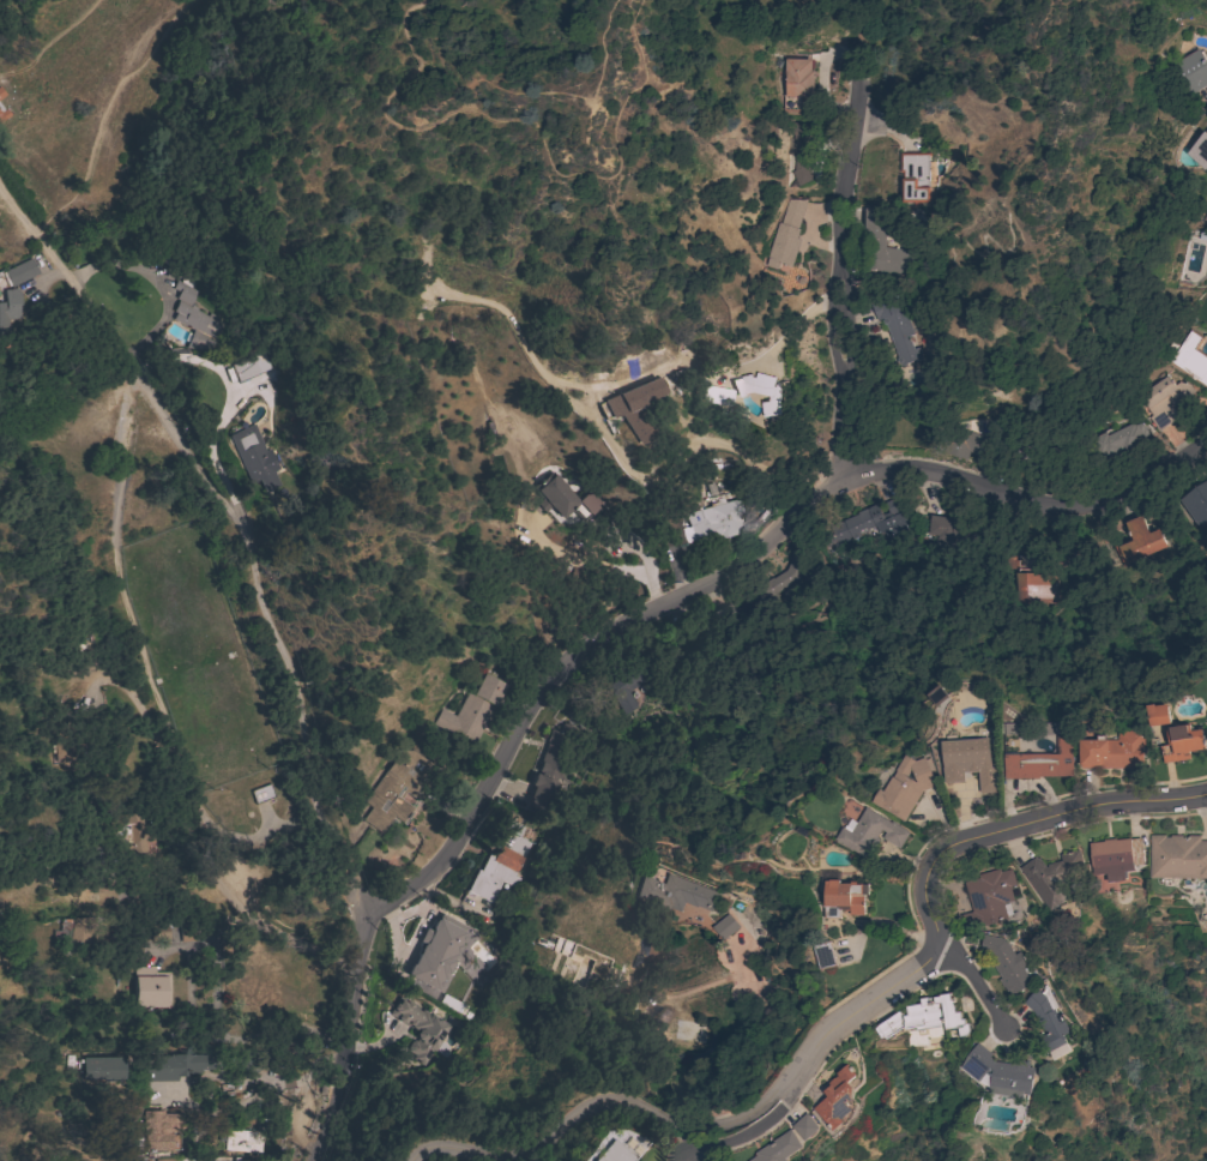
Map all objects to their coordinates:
road: (48, 40)
building: (1190, 72)
building: (796, 83)
road: (539, 92)
building: (1, 94)
road: (104, 110)
building: (2, 113)
road: (533, 128)
building: (1199, 150)
building: (802, 163)
building: (913, 176)
road: (4, 193)
building: (1206, 215)
building: (785, 234)
building: (881, 246)
building: (169, 255)
building: (23, 270)
road: (844, 287)
building: (8, 312)
building: (194, 317)
building: (895, 323)
building: (1188, 356)
building: (249, 365)
building: (761, 390)
road: (229, 395)
building: (714, 395)
building: (1164, 401)
building: (626, 408)
road: (163, 414)
building: (1121, 441)
building: (970, 444)
building: (254, 457)
building: (1048, 458)
building: (565, 498)
building: (1196, 504)
building: (893, 505)
building: (716, 519)
building: (865, 525)
building: (953, 528)
building: (1140, 541)
road: (599, 563)
road: (742, 573)
building: (778, 579)
building: (1031, 580)
building: (720, 615)
road: (119, 666)
building: (627, 681)
building: (936, 694)
building: (471, 710)
building: (1159, 714)
building: (1034, 728)
building: (1182, 742)
building: (1112, 751)
building: (550, 757)
building: (964, 757)
building: (1040, 762)
building: (986, 781)
building: (399, 787)
building: (904, 787)
building: (261, 793)
building: (869, 832)
building: (137, 841)
building: (1177, 856)
building: (1114, 858)
building: (499, 860)
building: (1051, 876)
building: (672, 892)
building: (844, 897)
building: (988, 897)
road: (366, 910)
building: (725, 926)
building: (149, 932)
building: (186, 932)
building: (61, 933)
road: (278, 933)
building: (434, 954)
building: (825, 955)
building: (1004, 963)
building: (2, 979)
building: (149, 987)
road: (976, 987)
building: (922, 1015)
road: (843, 1018)
building: (1046, 1018)
building: (420, 1029)
road: (283, 1031)
building: (174, 1065)
building: (97, 1070)
building: (998, 1072)
road: (261, 1076)
building: (837, 1097)
building: (804, 1126)
building: (159, 1130)
road: (749, 1133)
building: (240, 1139)
building: (778, 1148)
building: (609, 1153)
building: (140, 1159)
building: (167, 1159)
building: (236, 1159)

